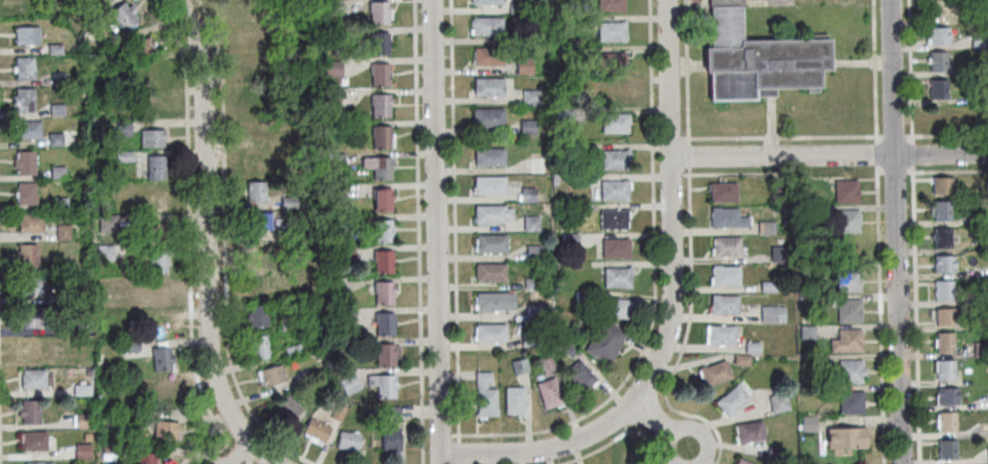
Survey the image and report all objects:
building: (99, 2)
building: (487, 4)
building: (244, 7)
building: (612, 7)
building: (332, 8)
building: (518, 11)
building: (378, 12)
building: (937, 13)
building: (124, 15)
building: (980, 17)
building: (488, 30)
building: (27, 34)
building: (250, 34)
building: (613, 35)
building: (331, 36)
building: (940, 39)
building: (525, 40)
building: (379, 43)
building: (980, 43)
building: (141, 46)
building: (56, 49)
building: (759, 60)
building: (489, 61)
building: (254, 65)
building: (613, 66)
building: (939, 66)
building: (24, 68)
building: (525, 68)
building: (976, 68)
building: (333, 69)
building: (380, 74)
building: (284, 75)
building: (58, 78)
building: (151, 78)
road: (667, 78)
building: (490, 91)
building: (614, 91)
building: (940, 94)
building: (257, 98)
building: (24, 99)
building: (532, 99)
building: (332, 100)
building: (978, 101)
building: (380, 105)
building: (153, 107)
building: (57, 110)
building: (488, 117)
building: (565, 117)
building: (940, 118)
building: (616, 126)
building: (124, 128)
building: (529, 128)
building: (255, 129)
building: (29, 130)
building: (152, 137)
building: (382, 137)
building: (56, 140)
building: (580, 151)
road: (942, 154)
building: (123, 156)
building: (490, 156)
road: (782, 156)
building: (616, 159)
building: (254, 161)
building: (336, 161)
building: (25, 163)
building: (537, 165)
building: (157, 166)
building: (378, 167)
building: (58, 173)
building: (585, 180)
building: (489, 184)
building: (943, 185)
building: (615, 190)
building: (257, 191)
building: (335, 191)
building: (779, 191)
building: (846, 191)
building: (724, 192)
building: (27, 194)
building: (528, 195)
building: (155, 198)
building: (382, 200)
building: (290, 203)
building: (59, 204)
building: (574, 211)
building: (941, 211)
building: (492, 213)
building: (818, 213)
building: (728, 218)
building: (982, 218)
building: (614, 219)
road: (454, 220)
building: (259, 221)
building: (848, 221)
building: (31, 223)
building: (336, 223)
building: (532, 223)
building: (108, 224)
road: (204, 224)
building: (767, 228)
building: (382, 230)
building: (154, 231)
building: (292, 232)
road: (436, 232)
road: (898, 232)
building: (63, 233)
building: (942, 238)
building: (570, 240)
building: (492, 243)
building: (727, 246)
building: (616, 248)
building: (108, 253)
building: (258, 253)
building: (534, 253)
building: (346, 254)
building: (779, 254)
building: (27, 256)
building: (158, 260)
building: (383, 261)
building: (944, 264)
building: (490, 272)
building: (726, 275)
building: (618, 277)
building: (849, 281)
building: (86, 282)
building: (533, 284)
building: (337, 285)
building: (31, 286)
building: (259, 287)
building: (769, 287)
building: (944, 291)
building: (384, 292)
building: (156, 294)
building: (984, 294)
building: (549, 295)
building: (583, 298)
building: (495, 301)
building: (725, 305)
building: (616, 307)
building: (849, 310)
building: (82, 312)
building: (538, 313)
building: (772, 314)
building: (258, 315)
building: (38, 316)
building: (347, 316)
building: (945, 317)
building: (384, 324)
building: (984, 324)
building: (288, 325)
building: (159, 326)
building: (808, 332)
building: (491, 333)
building: (721, 335)
building: (530, 339)
building: (848, 341)
building: (605, 342)
building: (945, 342)
building: (347, 345)
building: (131, 346)
building: (260, 347)
building: (30, 348)
building: (568, 348)
building: (753, 348)
building: (981, 350)
building: (293, 351)
building: (388, 355)
building: (319, 356)
building: (162, 358)
building: (742, 360)
building: (812, 360)
building: (546, 363)
building: (520, 366)
building: (946, 370)
building: (851, 372)
building: (88, 373)
building: (715, 373)
building: (272, 375)
building: (580, 375)
building: (33, 379)
road: (644, 382)
building: (350, 385)
building: (383, 385)
building: (82, 390)
building: (549, 393)
building: (165, 394)
building: (486, 396)
building: (948, 396)
building: (514, 400)
building: (732, 400)
building: (779, 403)
building: (851, 403)
building: (289, 407)
building: (30, 411)
building: (338, 413)
building: (391, 414)
building: (142, 418)
building: (84, 421)
building: (947, 422)
building: (809, 424)
road: (660, 425)
building: (166, 429)
building: (317, 430)
building: (750, 431)
building: (846, 437)
building: (87, 438)
building: (391, 439)
building: (34, 441)
building: (348, 441)
building: (111, 449)
building: (948, 449)
building: (83, 451)
road: (458, 452)
road: (239, 453)
building: (775, 453)
road: (262, 454)
building: (145, 458)
building: (630, 461)
building: (742, 461)
building: (39, 463)

